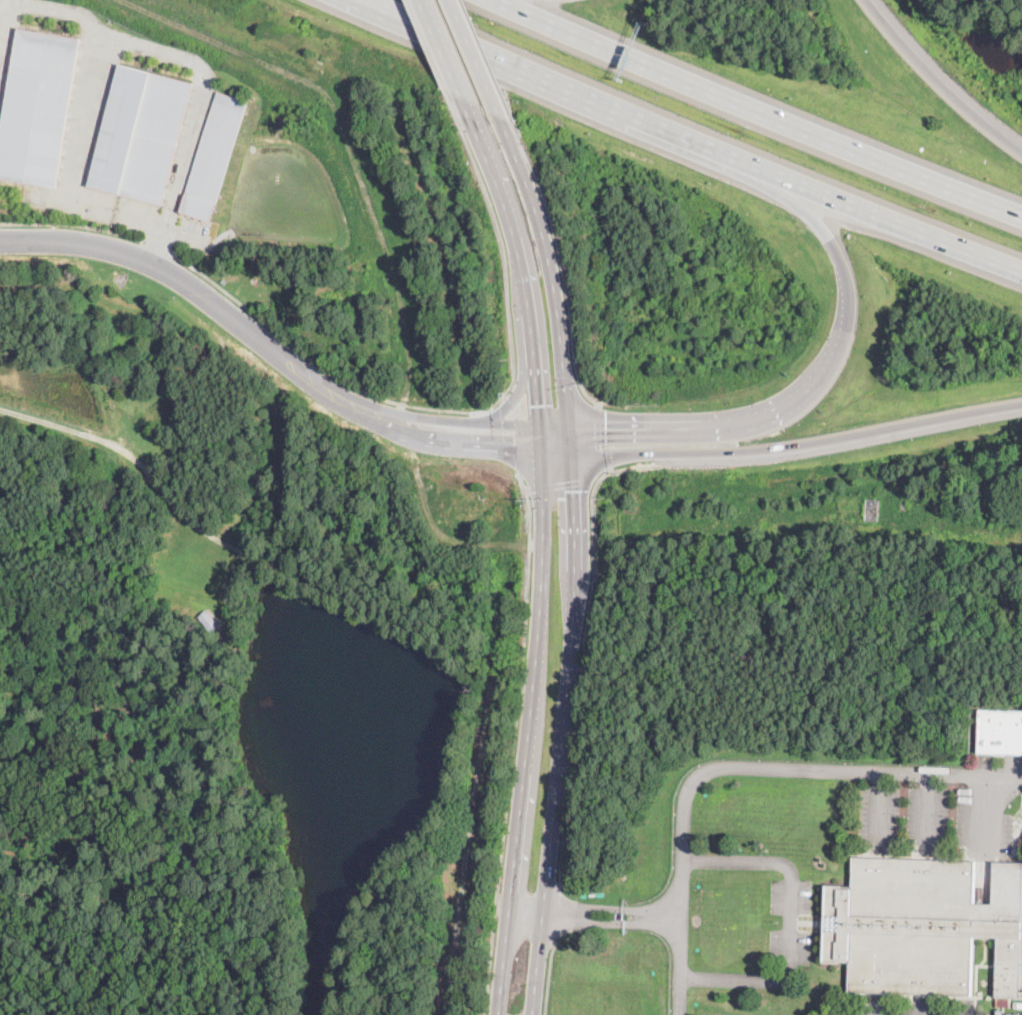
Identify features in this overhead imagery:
park: (1003, 15)
road: (427, 48)
road: (189, 57)
road: (443, 58)
road: (471, 59)
road: (486, 61)
road: (937, 81)
building: (38, 106)
road: (758, 108)
building: (141, 133)
road: (687, 138)
building: (214, 155)
road: (75, 163)
road: (72, 224)
road: (157, 246)
road: (561, 264)
road: (520, 265)
road: (546, 267)
road: (176, 276)
road: (829, 361)
road: (517, 392)
road: (508, 401)
traffic signals: (538, 404)
road: (563, 409)
road: (471, 410)
road: (521, 412)
road: (515, 413)
road: (427, 417)
road: (553, 423)
traffic signals: (608, 423)
road: (599, 436)
road: (424, 439)
road: (520, 445)
traffic signals: (513, 446)
road: (797, 446)
road: (555, 450)
road: (141, 459)
road: (563, 482)
traffic signals: (570, 490)
building: (872, 509)
building: (207, 621)
road: (580, 671)
road: (527, 719)
road: (559, 719)
building: (1000, 731)
road: (513, 741)
road: (786, 766)
road: (878, 804)
road: (924, 810)
road: (985, 811)
road: (523, 909)
road: (555, 912)
road: (562, 912)
road: (648, 914)
building: (619, 915)
road: (790, 920)
building: (922, 925)
road: (679, 949)
road: (547, 977)
building: (1003, 1002)

